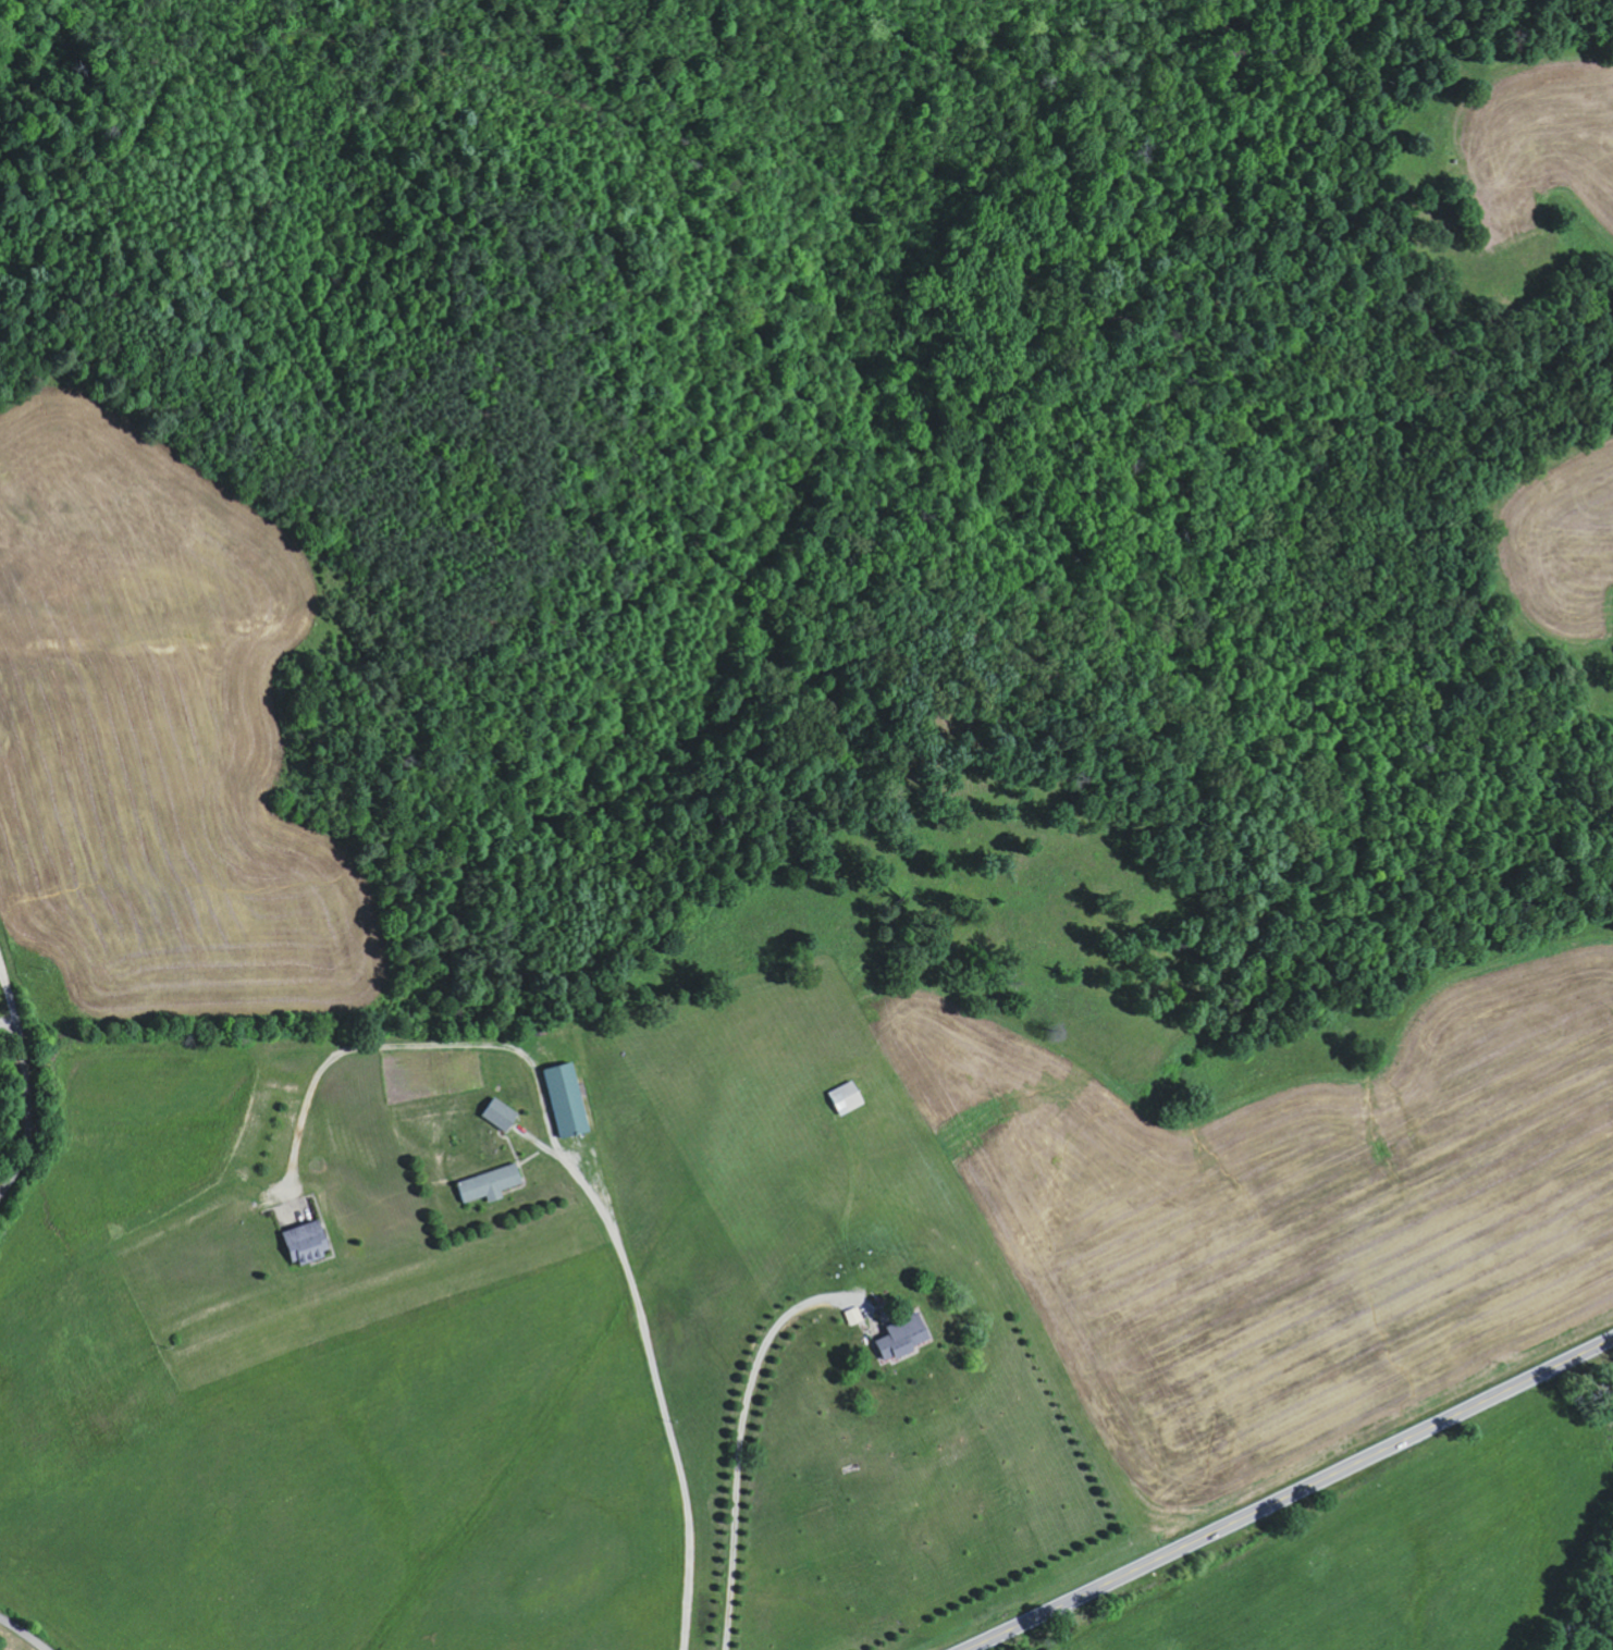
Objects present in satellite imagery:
road: (26, 1093)
building: (847, 1098)
building: (566, 1100)
building: (500, 1115)
building: (489, 1184)
building: (306, 1243)
building: (901, 1335)
road: (1288, 1494)
road: (21, 1635)

